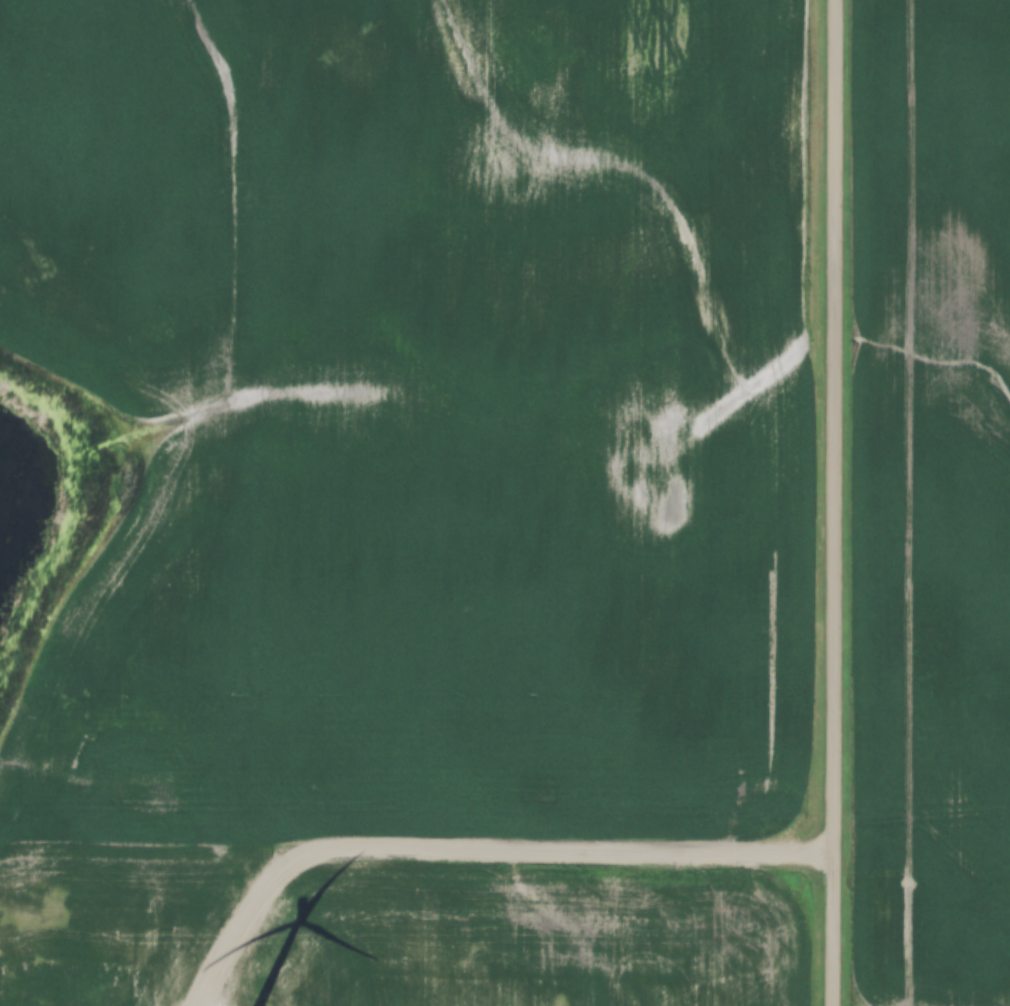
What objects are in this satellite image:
road: (835, 503)

